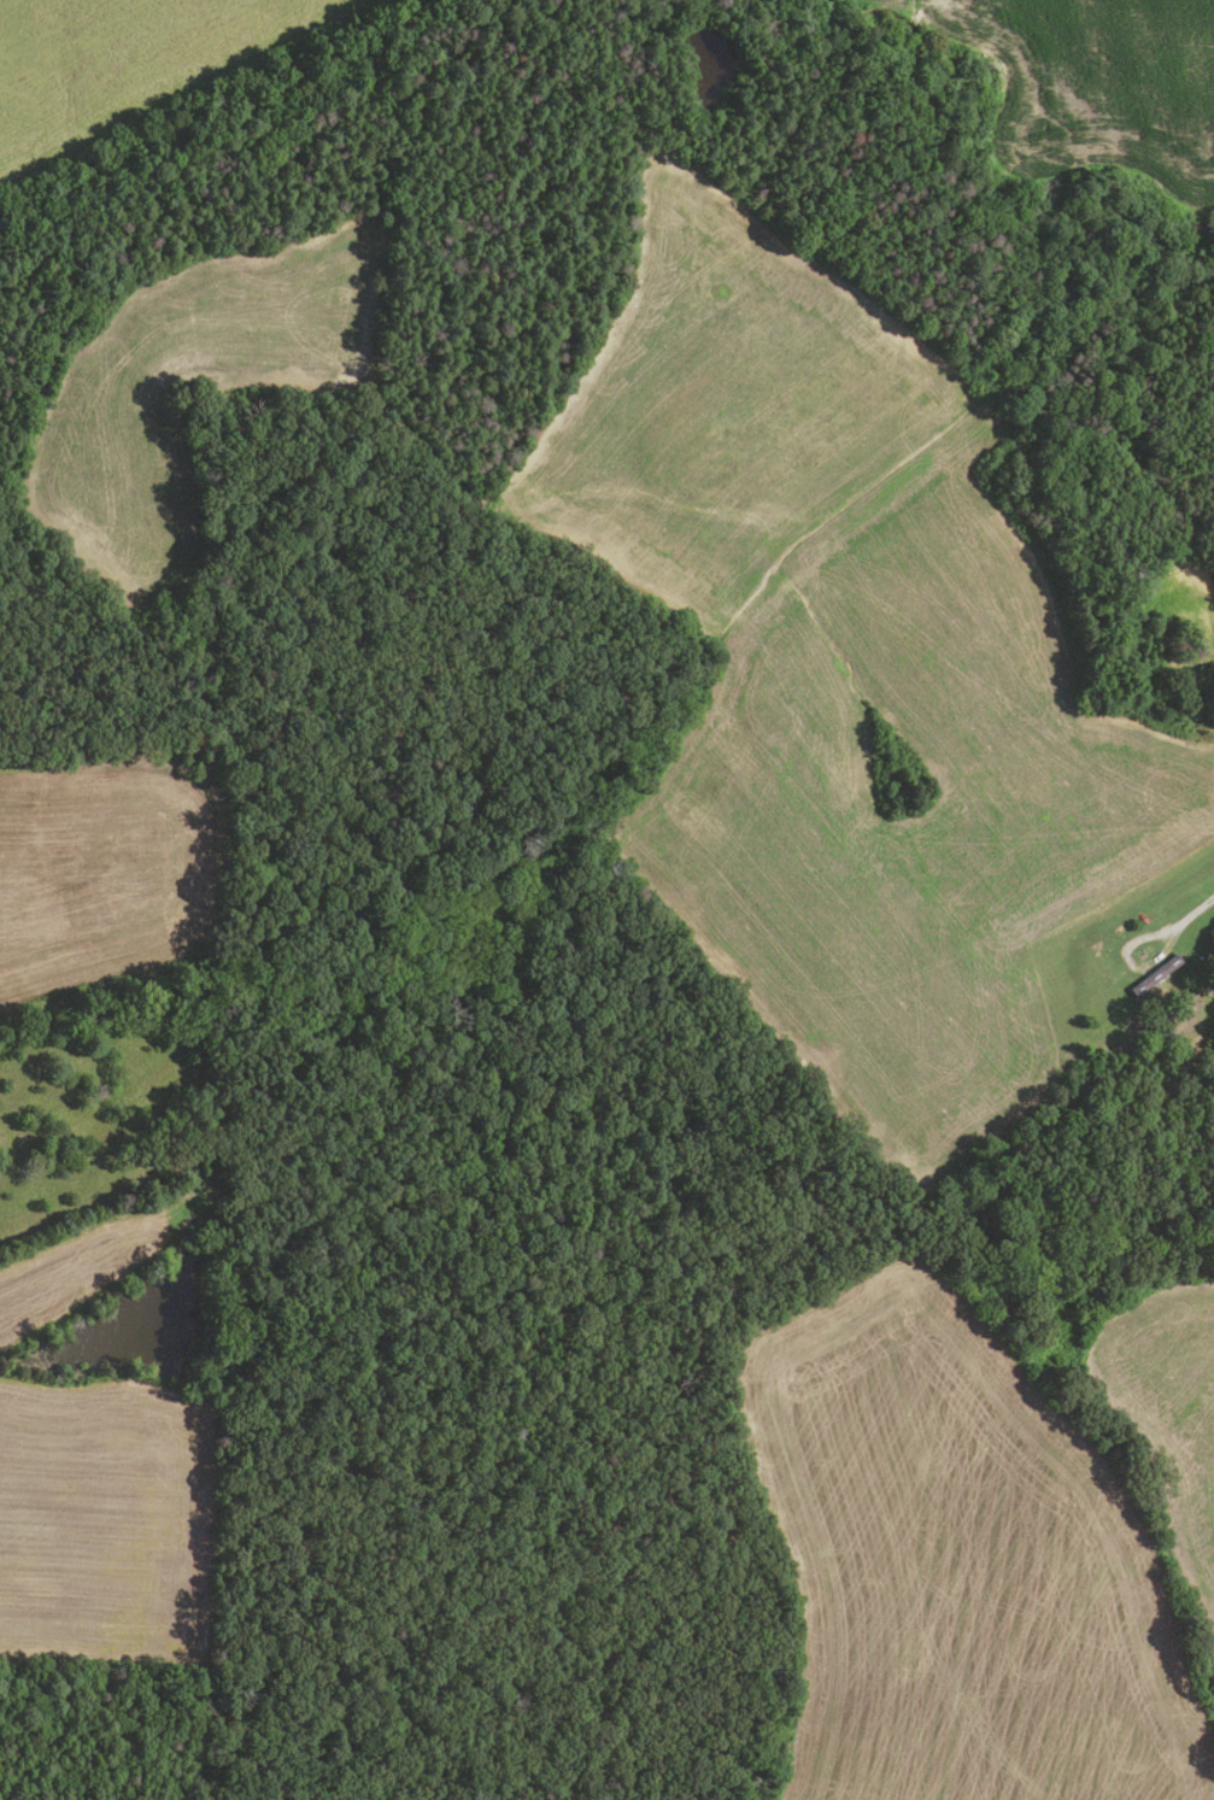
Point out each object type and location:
road: (1190, 914)
building: (1155, 975)

